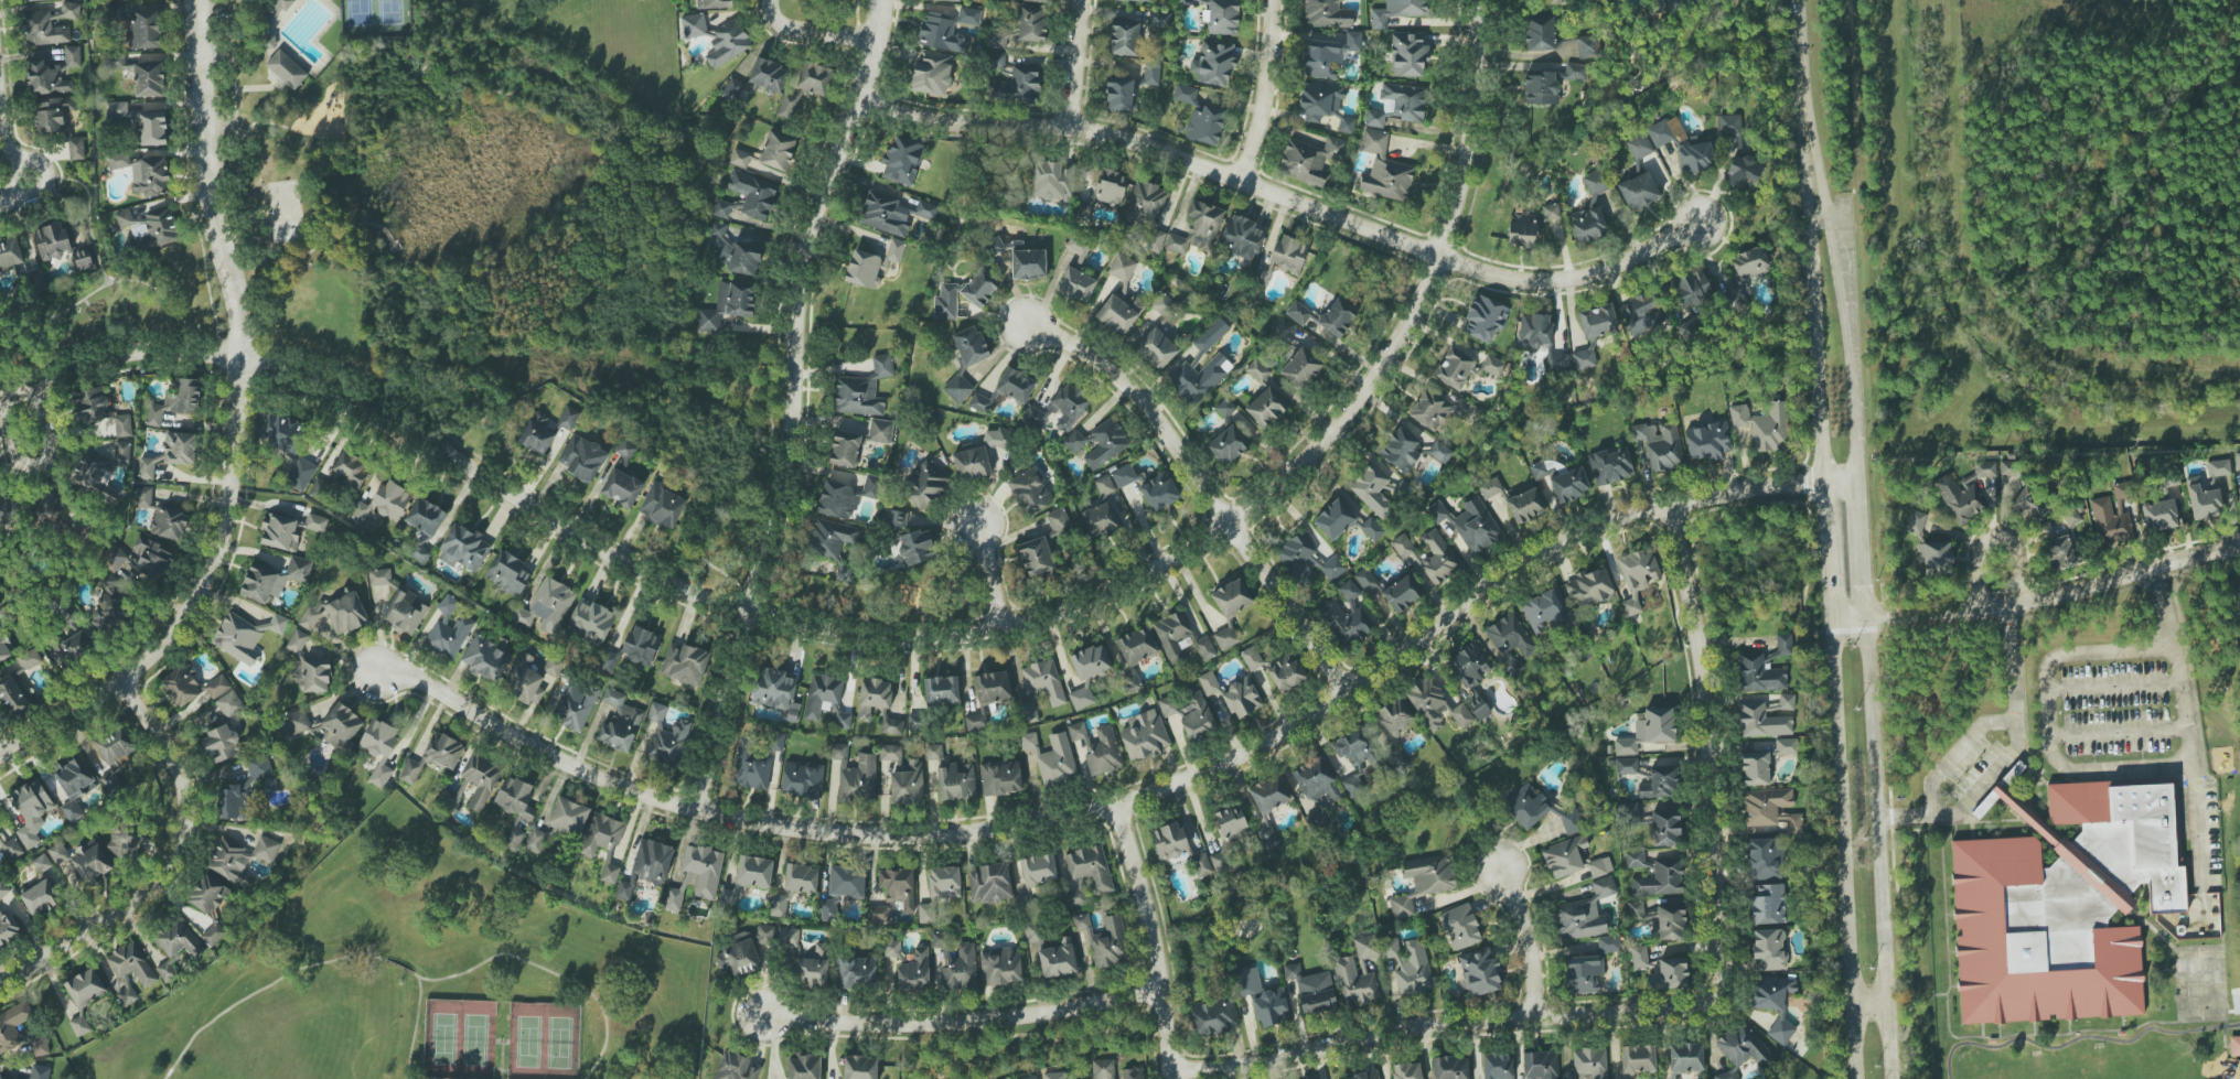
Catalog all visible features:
building: (34, 0)
building: (946, 0)
building: (1036, 0)
building: (1134, 0)
building: (1191, 1)
building: (714, 3)
road: (769, 4)
building: (276, 6)
building: (71, 10)
road: (276, 11)
building: (1397, 11)
building: (1327, 14)
building: (968, 15)
park: (375, 17)
building: (1223, 17)
building: (1159, 20)
building: (1031, 23)
building: (43, 30)
building: (144, 31)
road: (814, 32)
building: (1539, 32)
building: (940, 33)
building: (717, 39)
building: (1124, 39)
building: (1003, 40)
parking lot: (223, 46)
building: (1587, 46)
road: (1800, 51)
building: (1408, 54)
building: (1329, 55)
building: (997, 60)
building: (1213, 63)
road: (1074, 64)
building: (288, 66)
building: (1575, 72)
building: (931, 73)
building: (53, 74)
building: (1151, 74)
building: (768, 76)
building: (149, 78)
building: (1017, 87)
building: (1541, 87)
building: (806, 88)
road: (1264, 91)
building: (1118, 94)
building: (1185, 94)
building: (1397, 105)
building: (1325, 107)
building: (116, 109)
building: (52, 114)
building: (1729, 125)
building: (1205, 126)
building: (152, 128)
road: (10, 131)
building: (1665, 132)
building: (1639, 147)
road: (1154, 148)
building: (76, 149)
building: (778, 151)
building: (1695, 157)
building: (740, 158)
building: (902, 160)
building: (1309, 160)
road: (1805, 166)
building: (1383, 170)
building: (1741, 172)
building: (144, 173)
building: (1052, 181)
building: (1595, 183)
building: (1108, 187)
building: (1639, 191)
building: (753, 194)
road: (22, 198)
park: (282, 199)
building: (1144, 204)
road: (88, 207)
building: (721, 209)
building: (926, 209)
building: (882, 214)
building: (1587, 225)
road: (360, 226)
building: (1528, 226)
building: (150, 228)
building: (1198, 228)
park: (482, 230)
building: (1241, 237)
building: (1155, 240)
building: (52, 241)
building: (721, 241)
building: (996, 245)
building: (10, 252)
building: (744, 258)
building: (1284, 259)
building: (84, 260)
building: (1028, 262)
building: (1748, 263)
building: (871, 265)
building: (1122, 267)
road: (1574, 277)
road: (124, 280)
road: (281, 280)
building: (1075, 284)
building: (1694, 289)
road: (1829, 291)
building: (964, 294)
building: (1735, 302)
building: (728, 304)
building: (1164, 304)
building: (1119, 310)
building: (1298, 313)
park: (117, 314)
building: (1640, 314)
building: (1337, 317)
building: (1485, 319)
building: (1534, 330)
building: (1594, 333)
building: (1211, 335)
building: (1158, 346)
building: (965, 362)
building: (1557, 362)
building: (1492, 365)
building: (1300, 369)
building: (1454, 369)
building: (1257, 370)
building: (1199, 378)
road: (1816, 380)
building: (862, 390)
building: (1005, 390)
building: (184, 397)
road: (787, 403)
building: (90, 406)
building: (1060, 408)
building: (1225, 408)
building: (1266, 408)
building: (1439, 410)
building: (154, 416)
building: (568, 418)
road: (386, 420)
building: (122, 425)
building: (1765, 425)
road: (233, 428)
building: (880, 431)
building: (537, 433)
building: (997, 438)
building: (1074, 441)
building: (1707, 441)
building: (1106, 443)
building: (1228, 445)
building: (1660, 445)
building: (288, 446)
building: (180, 447)
building: (625, 450)
building: (845, 450)
building: (1401, 450)
building: (1439, 452)
building: (121, 453)
road: (42, 454)
building: (582, 457)
building: (2237, 461)
building: (972, 464)
building: (1611, 466)
building: (147, 468)
building: (2008, 468)
building: (351, 470)
building: (1539, 470)
building: (1124, 475)
building: (94, 476)
building: (925, 484)
building: (1569, 484)
building: (1104, 485)
road: (1204, 487)
building: (622, 488)
building: (1490, 488)
building: (1372, 490)
building: (2207, 490)
building: (1029, 492)
building: (1159, 492)
building: (1964, 492)
road: (1266, 494)
building: (143, 497)
building: (846, 497)
building: (383, 504)
building: (663, 505)
building: (1525, 505)
building: (2032, 505)
building: (47, 508)
building: (8, 510)
building: (2072, 516)
building: (2112, 516)
building: (2158, 516)
building: (1101, 520)
building: (1335, 520)
building: (892, 521)
building: (1059, 521)
building: (315, 522)
building: (1916, 522)
building: (169, 524)
building: (1469, 524)
building: (1372, 529)
building: (279, 532)
road: (1710, 532)
road: (1992, 537)
park: (1740, 540)
building: (1402, 546)
building: (463, 548)
building: (917, 548)
road: (1859, 550)
building: (2062, 551)
building: (114, 557)
building: (1036, 557)
building: (1934, 557)
building: (1298, 558)
building: (1436, 559)
building: (147, 560)
building: (1332, 568)
building: (507, 573)
road: (988, 575)
building: (1638, 575)
road: (1829, 576)
building: (379, 578)
building: (274, 579)
building: (1365, 580)
building: (107, 582)
building: (1589, 589)
building: (1402, 593)
building: (1232, 597)
road: (2038, 597)
road: (2159, 604)
building: (0, 605)
building: (547, 606)
building: (2238, 606)
building: (1543, 611)
building: (346, 612)
building: (405, 612)
building: (110, 615)
building: (311, 615)
building: (1347, 617)
building: (590, 622)
building: (2239, 626)
building: (448, 630)
building: (1225, 637)
building: (1180, 639)
building: (1510, 641)
building: (1783, 644)
building: (642, 646)
building: (1137, 646)
building: (4, 647)
building: (69, 648)
building: (486, 658)
building: (1251, 658)
building: (29, 659)
building: (608, 660)
building: (1091, 661)
building: (684, 663)
road: (2008, 663)
building: (309, 665)
building: (1286, 673)
building: (1759, 673)
building: (1471, 676)
building: (1044, 681)
building: (1209, 683)
road: (2113, 684)
building: (182, 686)
building: (217, 687)
building: (993, 687)
building: (941, 690)
building: (776, 691)
building: (1081, 694)
building: (12, 697)
building: (872, 697)
building: (1242, 698)
building: (826, 701)
building: (1787, 702)
building: (229, 704)
building: (1435, 704)
building: (576, 705)
building: (1029, 705)
parking lot: (2118, 709)
building: (1190, 714)
building: (1394, 717)
building: (298, 721)
building: (1761, 721)
building: (619, 722)
building: (975, 722)
building: (341, 726)
building: (891, 726)
road: (1712, 730)
building: (1076, 731)
building: (1649, 731)
road: (2118, 731)
building: (1144, 735)
building: (667, 737)
building: (223, 744)
building: (116, 746)
building: (1786, 746)
building: (379, 748)
building: (1355, 748)
building: (1102, 751)
building: (934, 752)
building: (890, 753)
road: (1954, 754)
building: (436, 755)
building: (1052, 758)
building: (750, 766)
building: (1626, 766)
building: (259, 767)
building: (1756, 768)
road: (2073, 772)
building: (856, 775)
building: (802, 778)
building: (1000, 778)
building: (481, 780)
building: (1316, 780)
road: (1983, 780)
building: (956, 781)
building: (1354, 783)
building: (73, 784)
building: (908, 784)
building: (1660, 784)
building: (1269, 794)
road: (1138, 795)
building: (451, 798)
building: (515, 798)
building: (233, 801)
building: (1526, 806)
building: (1770, 809)
building: (32, 811)
building: (1628, 814)
building: (568, 816)
road: (1903, 819)
building: (1571, 822)
road: (2196, 822)
building: (1231, 823)
building: (1665, 828)
building: (601, 835)
building: (0, 837)
building: (1266, 837)
building: (514, 840)
building: (534, 840)
building: (125, 841)
building: (1169, 841)
building: (12, 849)
building: (266, 849)
road: (1877, 850)
road: (1844, 851)
building: (57, 852)
building: (1565, 856)
building: (1765, 859)
building: (1635, 860)
building: (1223, 861)
building: (232, 862)
building: (651, 862)
building: (42, 863)
building: (92, 863)
building: (1201, 865)
road: (167, 866)
building: (1599, 866)
building: (1090, 867)
building: (704, 870)
building: (1038, 870)
building: (754, 871)
building: (609, 873)
building: (1429, 874)
building: (801, 878)
building: (1660, 880)
building: (847, 882)
building: (944, 883)
building: (990, 883)
building: (3, 889)
building: (624, 891)
building: (893, 895)
building: (40, 898)
building: (1073, 898)
building: (674, 899)
building: (1767, 904)
building: (778, 905)
building: (210, 906)
building: (1401, 906)
building: (828, 909)
building: (2064, 910)
building: (1640, 911)
building: (926, 913)
building: (1585, 914)
building: (1671, 920)
building: (1460, 927)
building: (8, 928)
building: (1030, 931)
road: (1532, 937)
road: (1154, 938)
building: (1104, 940)
building: (1608, 945)
building: (176, 947)
building: (1366, 947)
building: (892, 949)
building: (1769, 950)
building: (743, 952)
building: (1058, 959)
building: (806, 960)
building: (953, 964)
building: (1410, 964)
road: (398, 967)
building: (1000, 967)
building: (128, 969)
building: (1661, 970)
road: (549, 972)
building: (856, 972)
building: (915, 972)
building: (1480, 972)
building: (1583, 974)
park: (419, 980)
building: (1246, 982)
building: (1354, 983)
building: (85, 988)
road: (259, 990)
building: (1311, 990)
building: (1775, 1004)
road: (1869, 1006)
building: (1272, 1007)
building: (1215, 1017)
road: (1462, 1017)
road: (961, 1021)
building: (13, 1024)
building: (79, 1025)
road: (415, 1025)
park: (458, 1037)
road: (2079, 1038)
park: (543, 1040)
road: (500, 1044)
building: (40, 1046)
building: (1743, 1046)
building: (2234, 1046)
building: (1686, 1057)
building: (1638, 1059)
road: (500, 1061)
building: (1589, 1064)
building: (1540, 1065)
building: (804, 1066)
building: (1497, 1066)
building: (736, 1067)
building: (860, 1067)
building: (1450, 1068)
building: (40, 1071)
building: (1407, 1071)
building: (1132, 1073)
building: (1726, 1075)
building: (1054, 1076)
building: (1363, 1076)
building: (3, 1077)
building: (1031, 1077)

